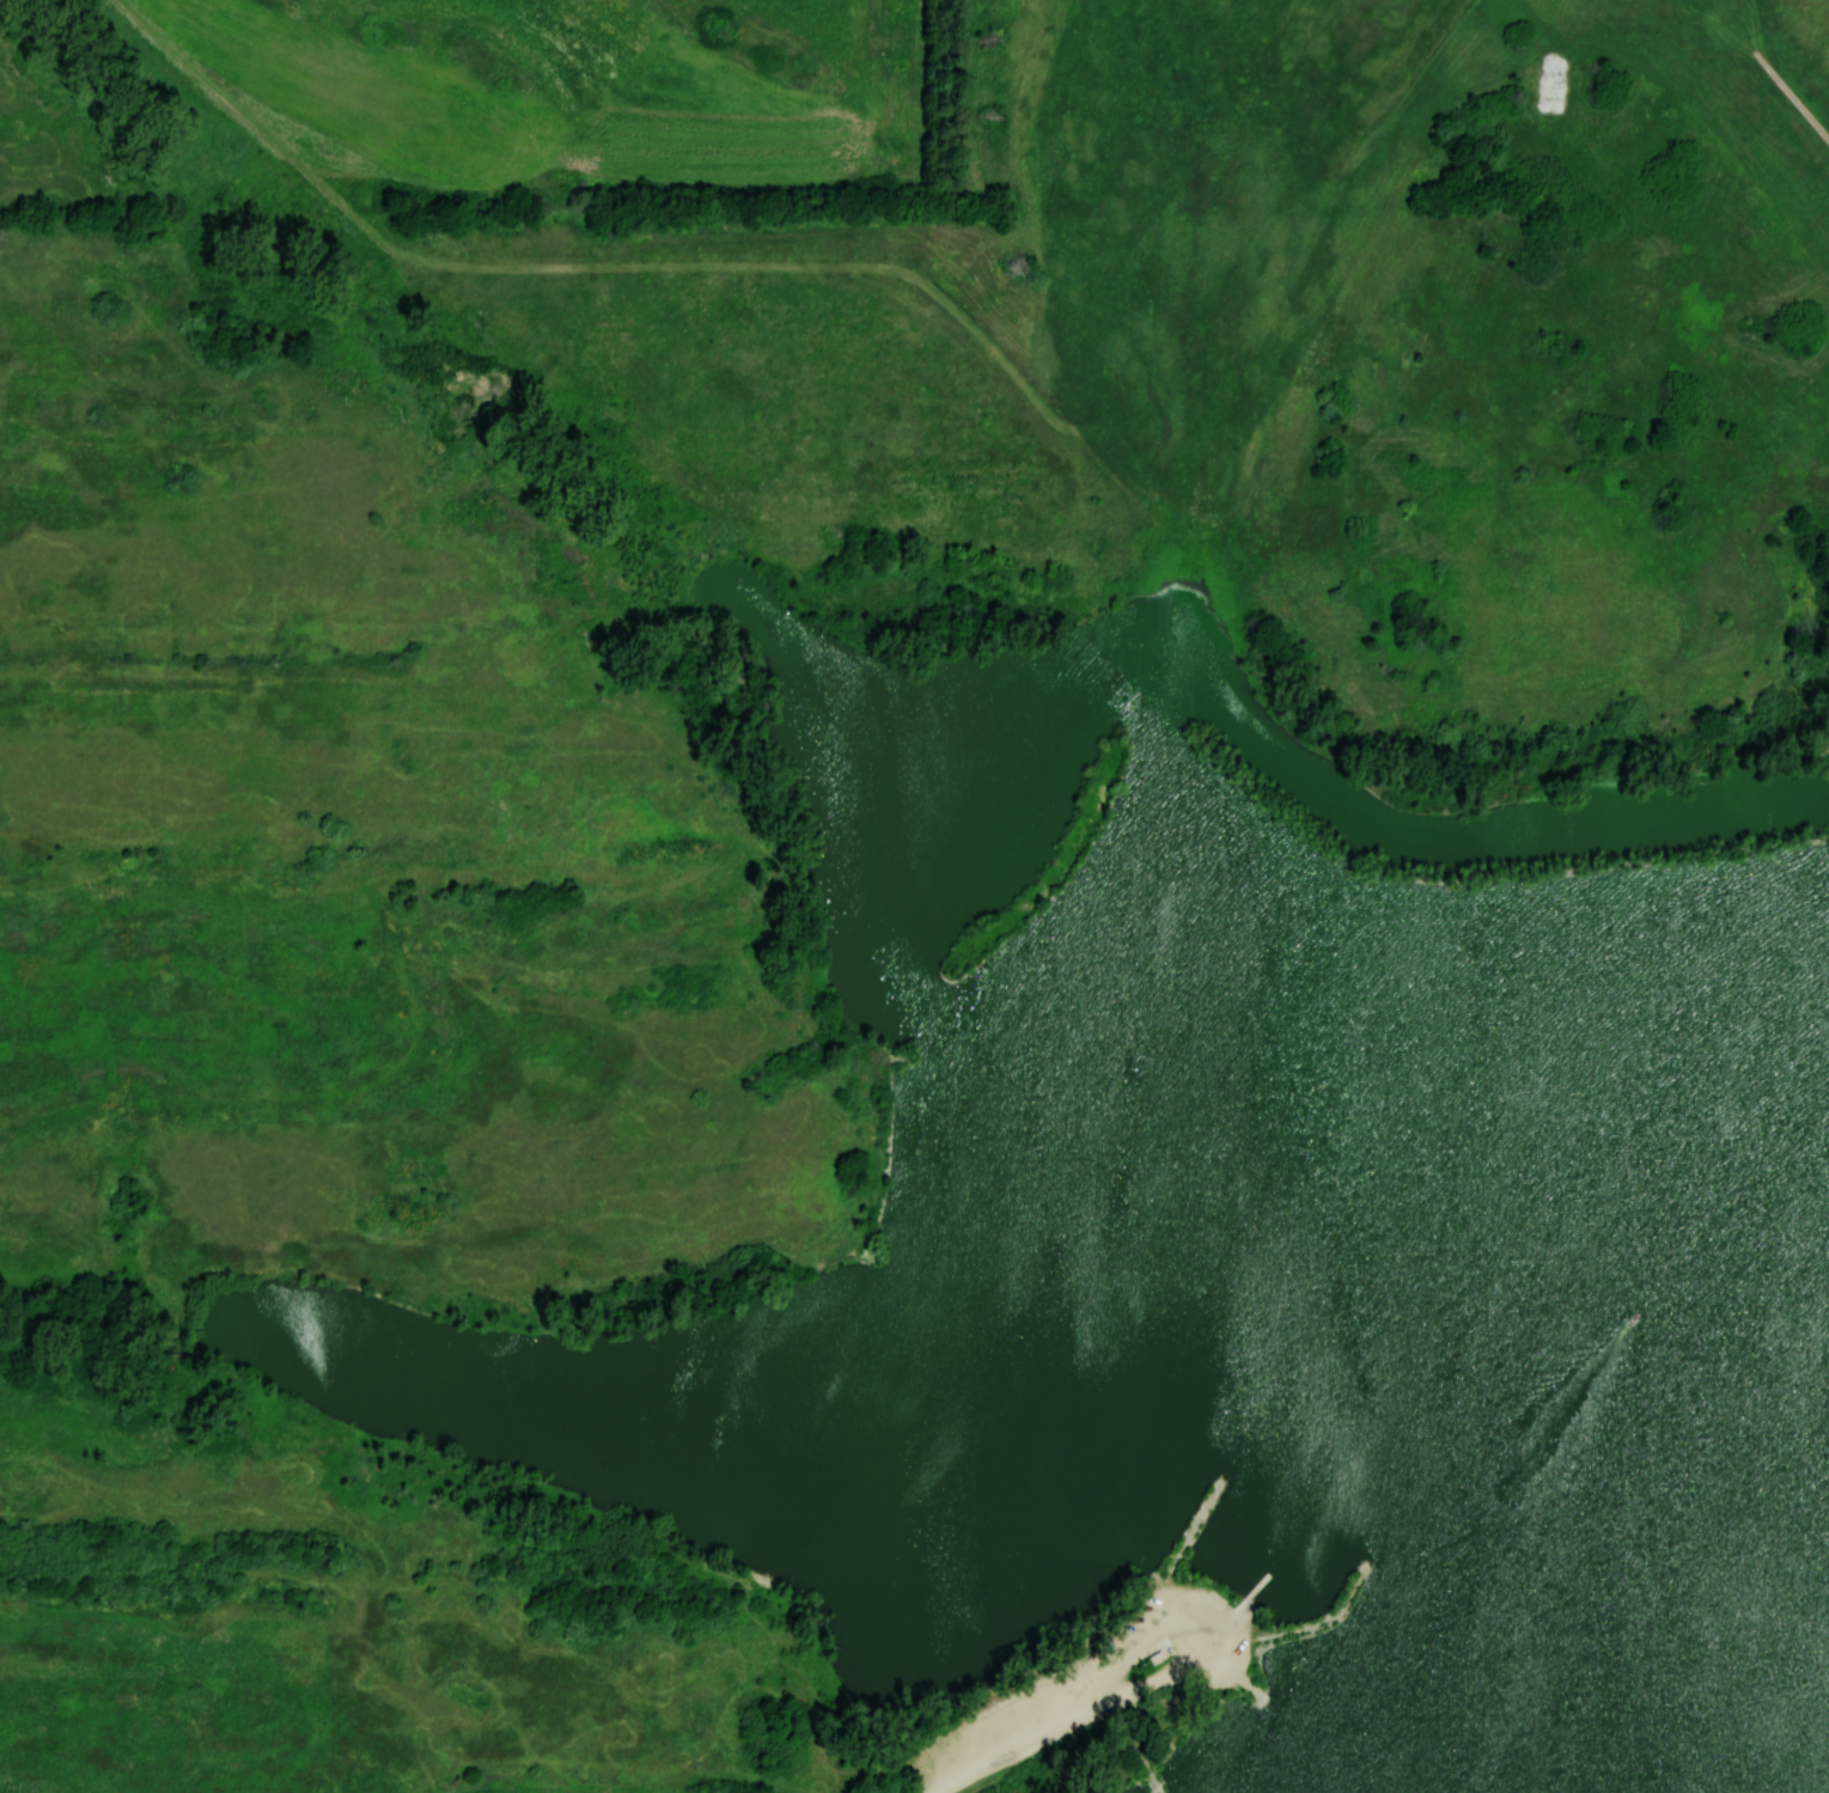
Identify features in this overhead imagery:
road: (1781, 87)
dam: (1800, 94)
parking lot: (1092, 1684)

